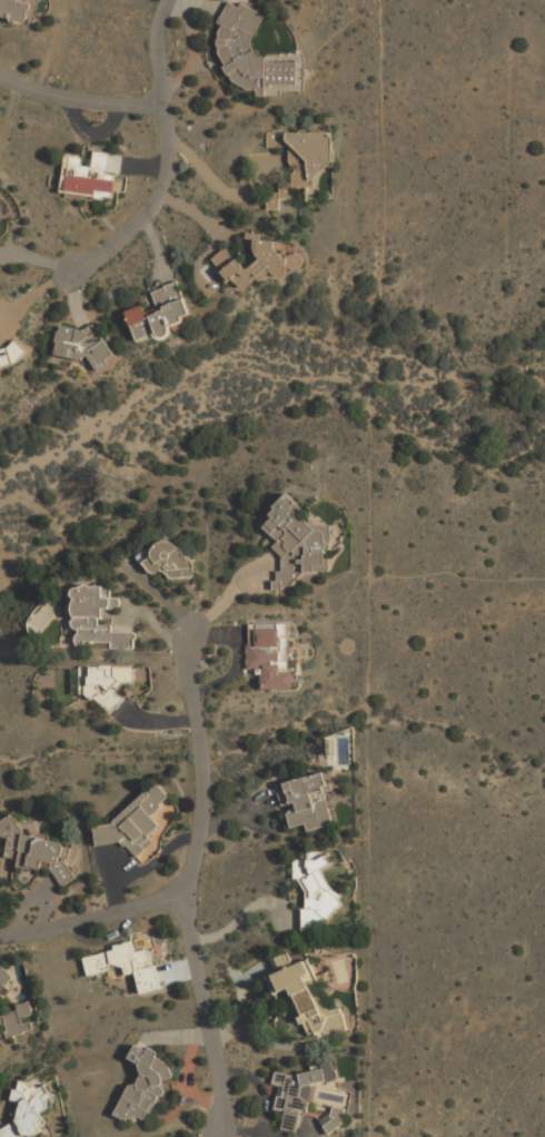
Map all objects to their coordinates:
building: (16, 9)
building: (250, 52)
road: (79, 101)
road: (171, 158)
building: (301, 160)
building: (93, 174)
building: (1, 206)
building: (258, 263)
building: (159, 313)
building: (81, 343)
building: (11, 354)
building: (296, 542)
building: (167, 560)
building: (98, 619)
building: (271, 653)
building: (106, 683)
building: (305, 801)
building: (136, 820)
building: (37, 849)
road: (195, 890)
building: (314, 890)
road: (242, 911)
road: (100, 927)
building: (126, 963)
building: (4, 975)
building: (299, 998)
building: (17, 1019)
building: (143, 1086)
building: (296, 1094)
building: (28, 1108)
building: (333, 1119)

